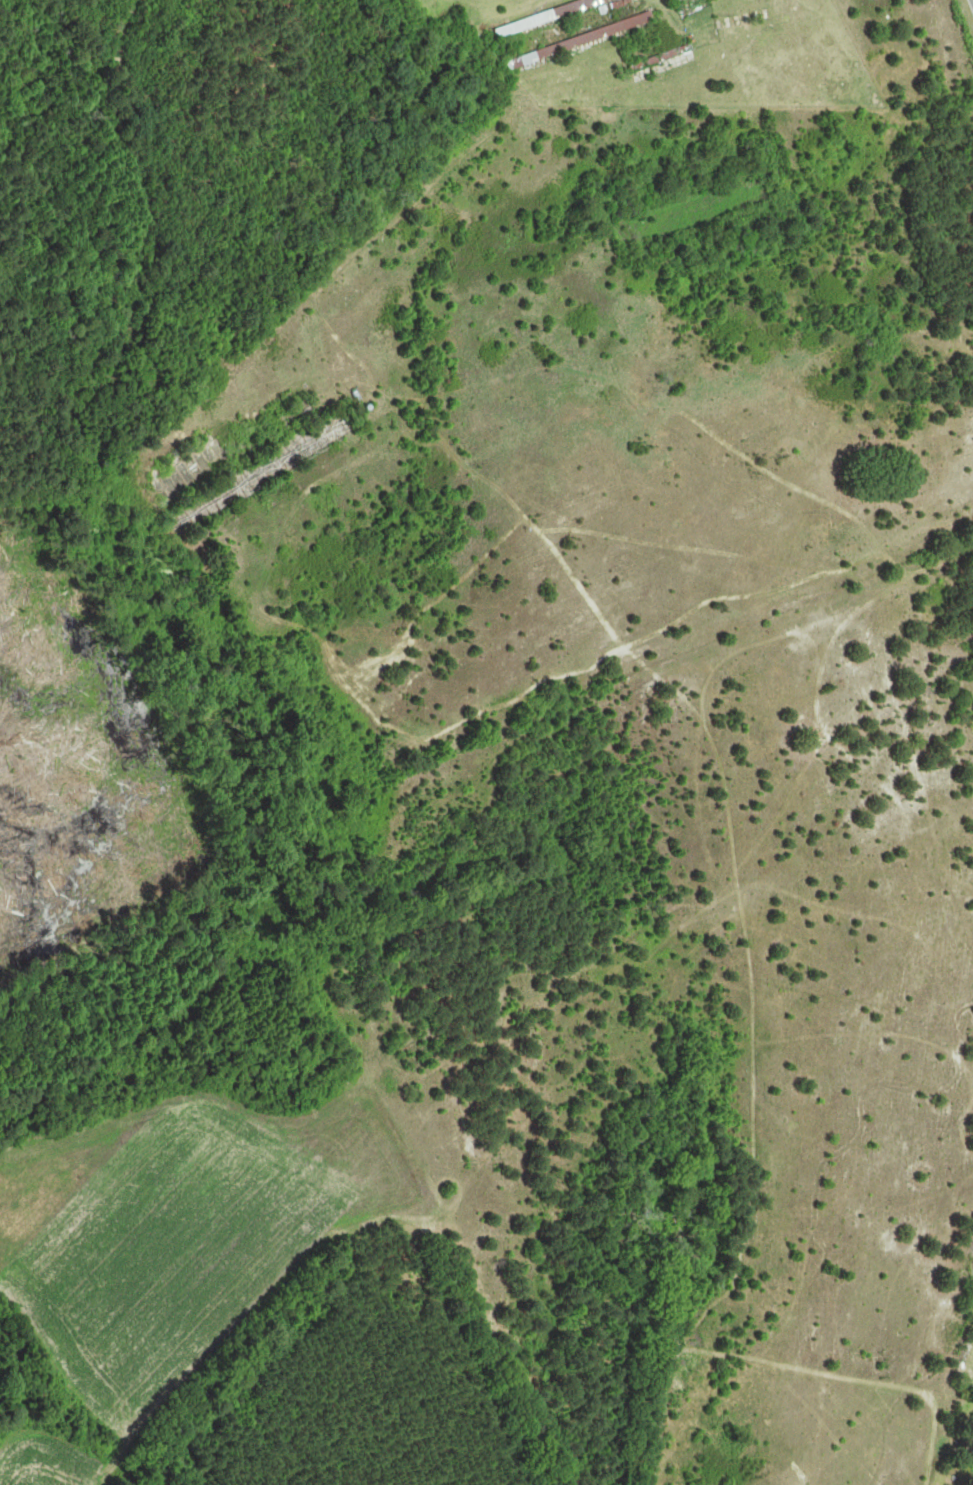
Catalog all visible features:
building: (552, 16)
building: (665, 60)
building: (295, 422)
building: (307, 442)

